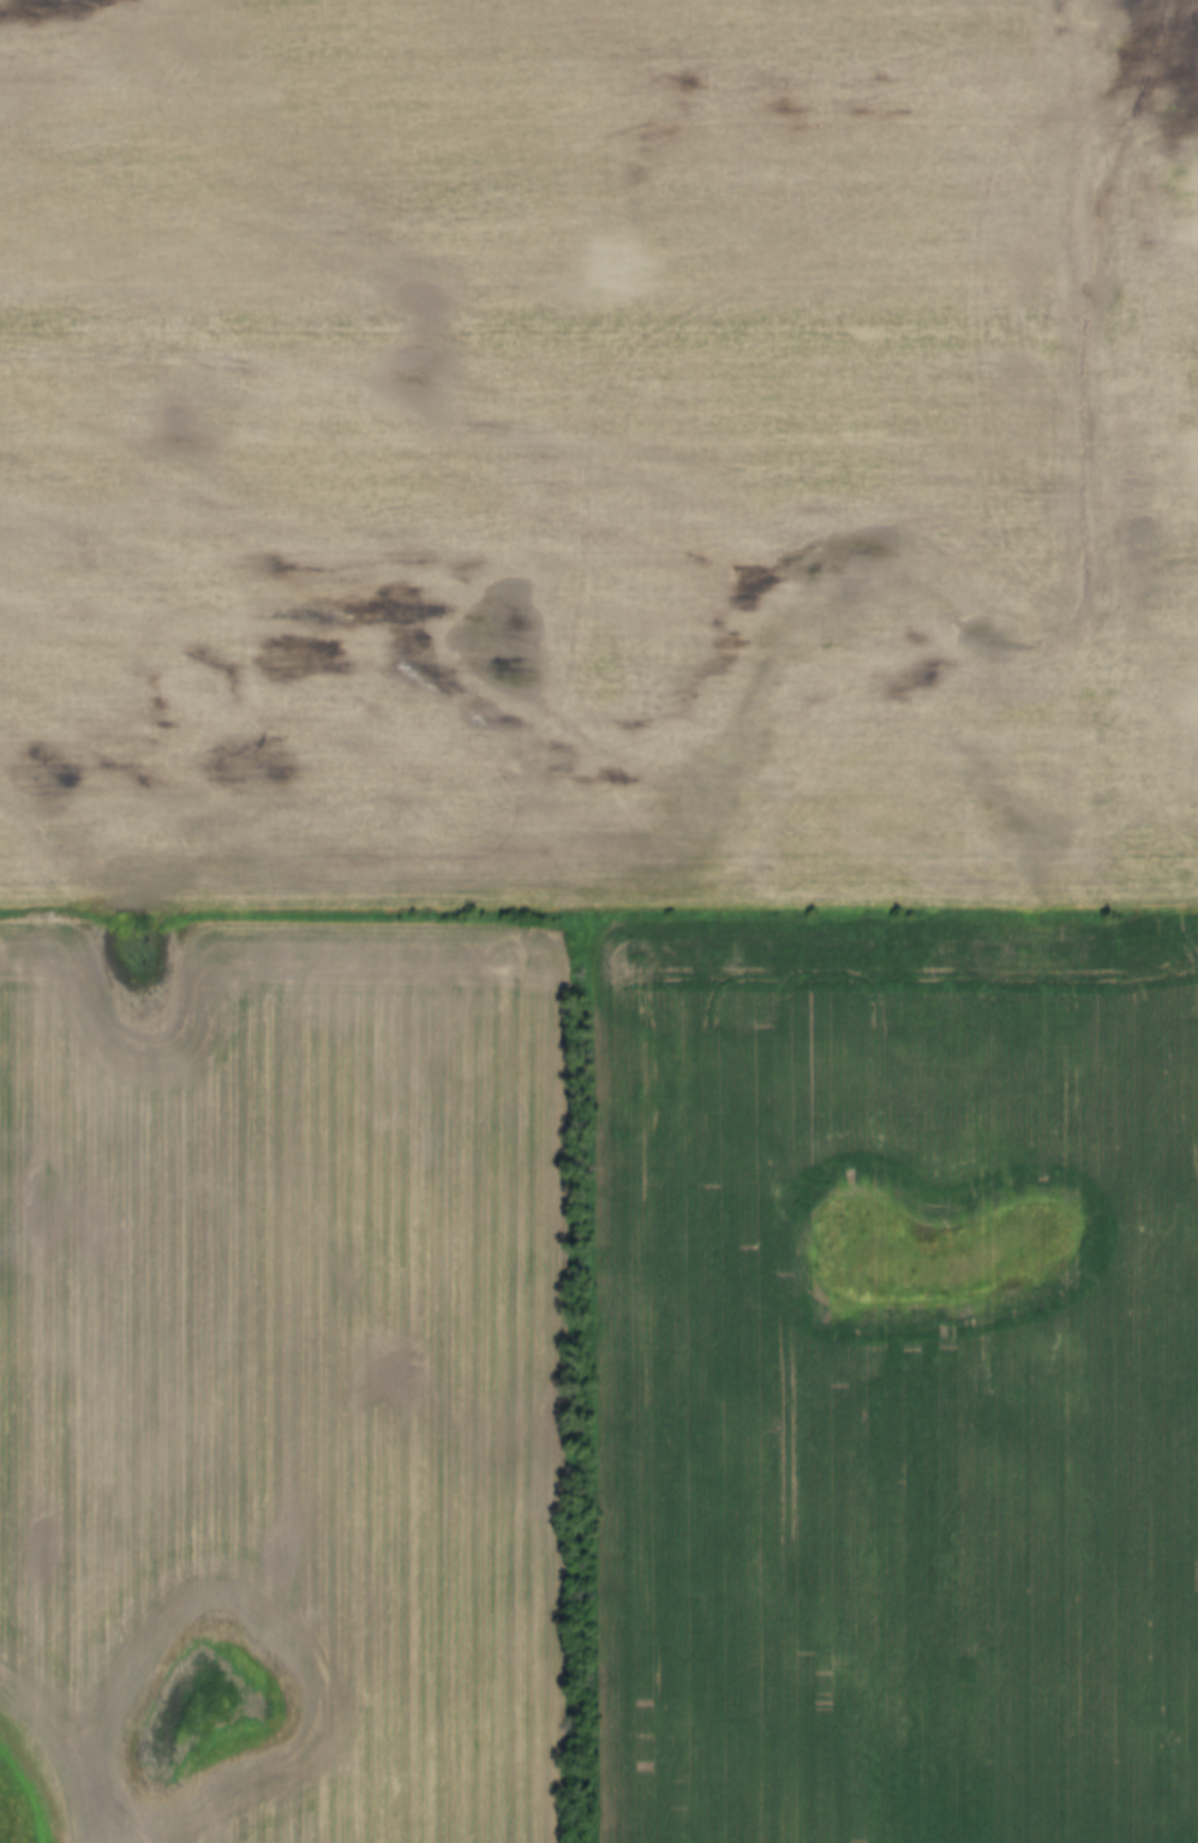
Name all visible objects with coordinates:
road: (1102, 424)

